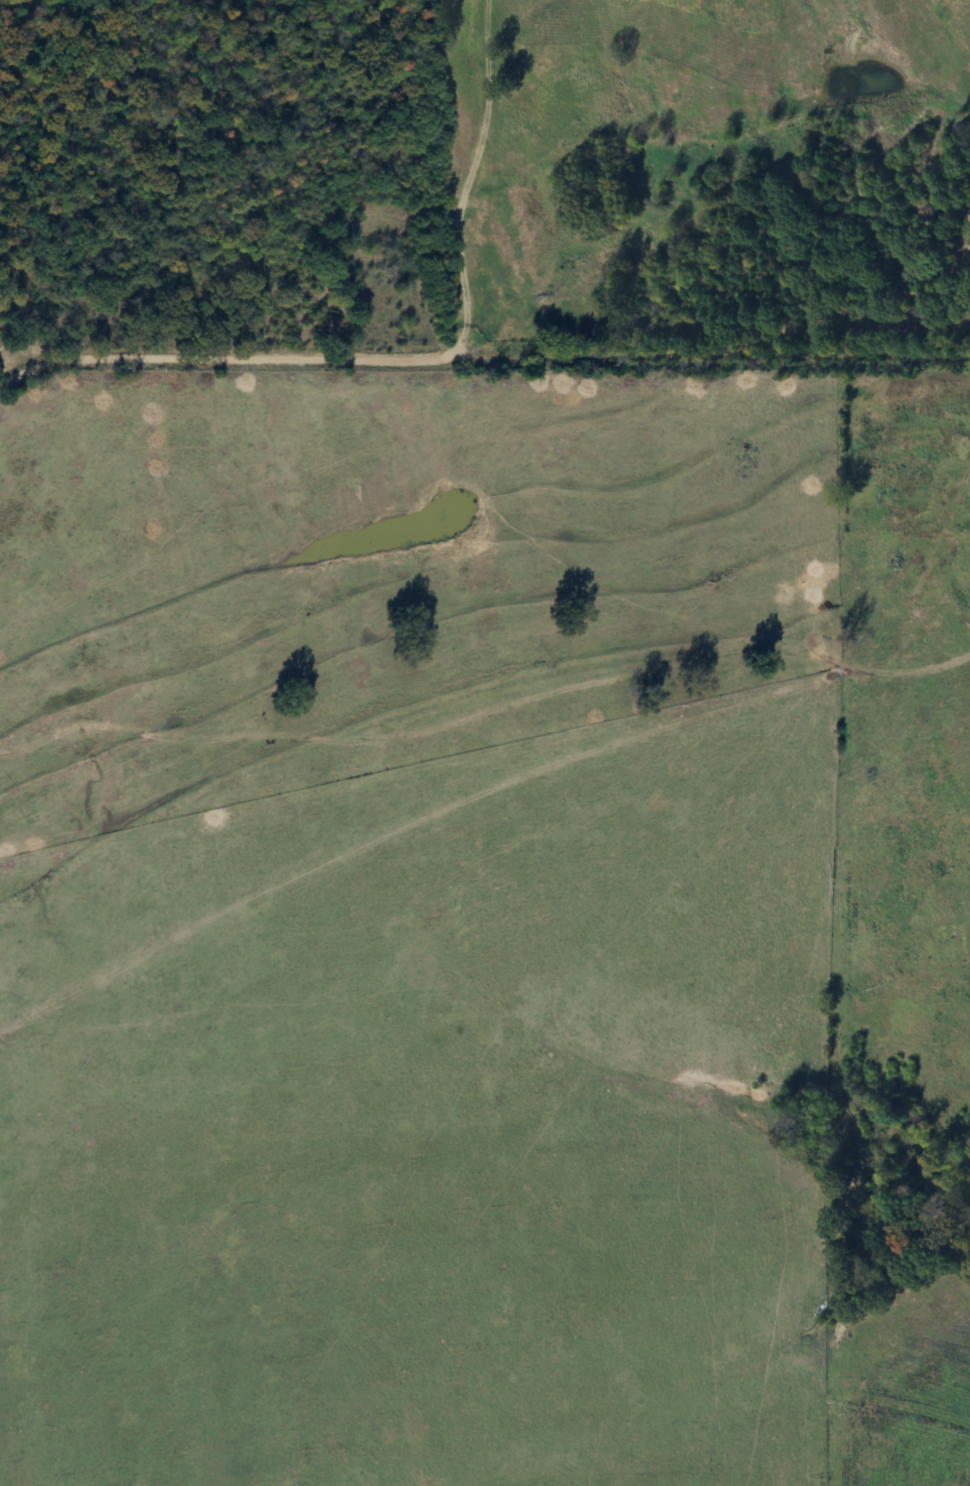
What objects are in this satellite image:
road: (481, 362)

